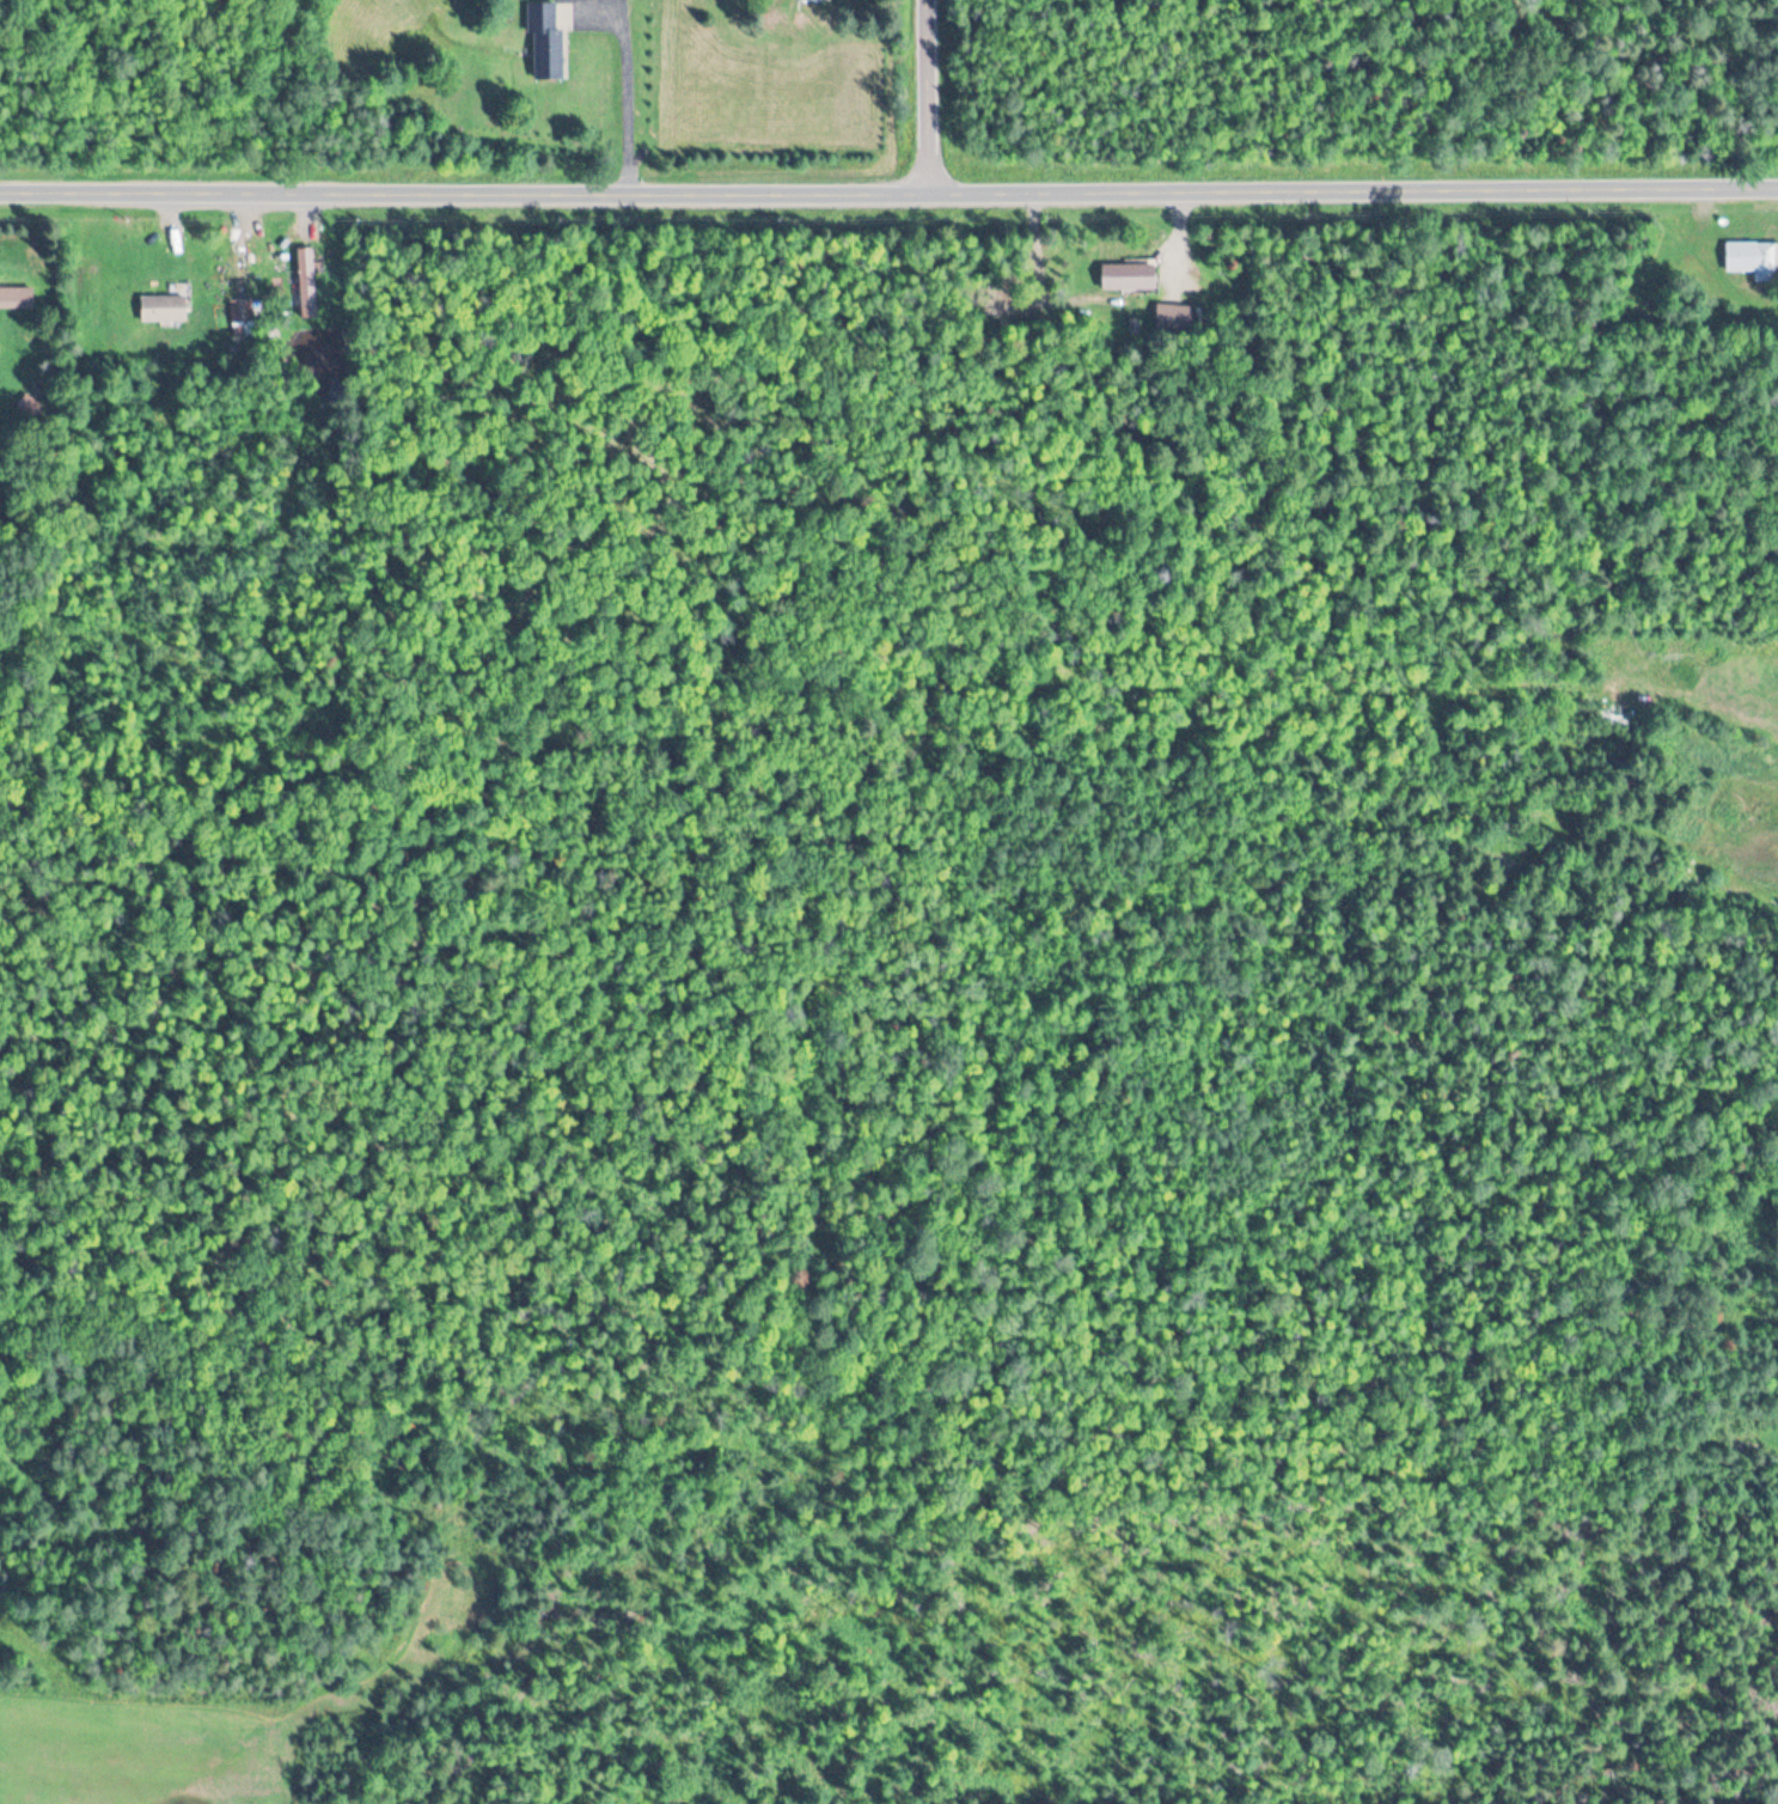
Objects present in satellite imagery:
building: (546, 41)
road: (622, 91)
road: (939, 91)
road: (888, 183)
building: (1752, 257)
building: (1128, 276)
building: (307, 284)
building: (17, 298)
building: (164, 307)
building: (243, 317)
building: (1177, 317)
road: (533, 736)

